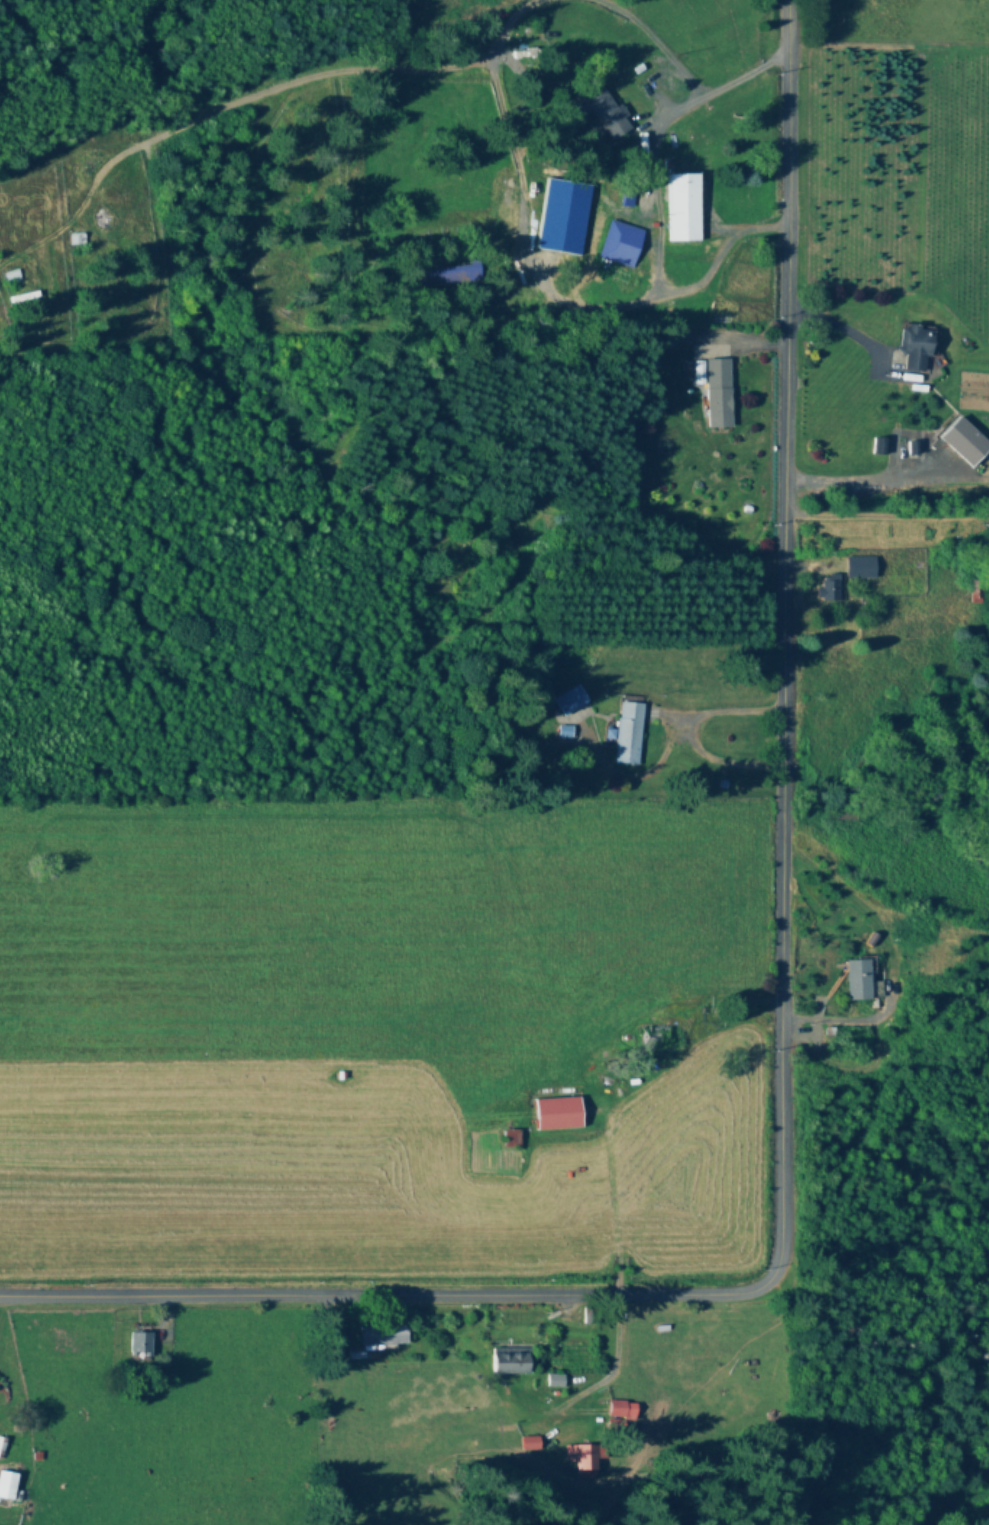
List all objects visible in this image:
road: (714, 85)
building: (604, 114)
building: (685, 208)
building: (76, 239)
building: (621, 245)
building: (445, 276)
building: (11, 277)
building: (916, 346)
building: (717, 390)
building: (878, 447)
road: (858, 483)
building: (861, 568)
building: (829, 589)
building: (571, 701)
building: (629, 734)
building: (842, 816)
building: (860, 979)
road: (782, 1027)
building: (661, 1036)
building: (559, 1114)
building: (512, 1139)
road: (612, 1200)
building: (384, 1335)
building: (140, 1344)
building: (510, 1363)
building: (622, 1410)
building: (531, 1443)
building: (1, 1448)
building: (586, 1461)
building: (8, 1486)

